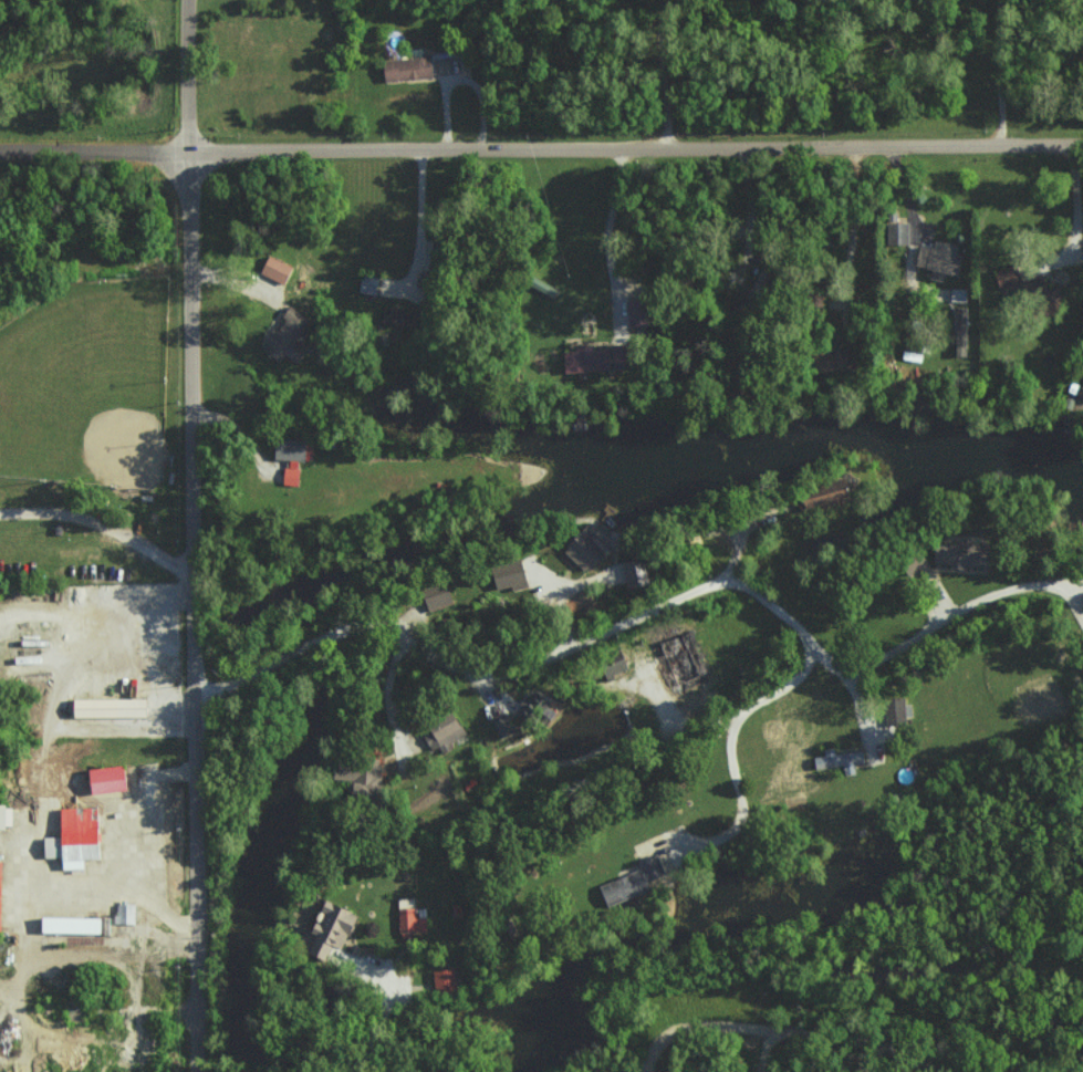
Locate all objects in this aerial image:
building: (403, 66)
road: (666, 73)
road: (541, 146)
road: (1079, 215)
road: (423, 223)
building: (895, 232)
road: (610, 237)
building: (936, 256)
building: (273, 268)
building: (1000, 277)
building: (364, 283)
building: (1039, 295)
building: (959, 331)
building: (280, 343)
building: (582, 358)
building: (824, 361)
park: (87, 384)
road: (644, 443)
building: (289, 449)
building: (290, 477)
building: (820, 493)
road: (105, 529)
road: (202, 535)
building: (580, 549)
building: (952, 554)
building: (908, 560)
building: (631, 571)
building: (504, 574)
building: (434, 595)
road: (641, 613)
building: (676, 659)
building: (610, 664)
building: (104, 707)
building: (892, 709)
building: (537, 712)
building: (498, 725)
building: (439, 730)
road: (728, 750)
building: (836, 760)
building: (101, 779)
building: (351, 779)
building: (3, 816)
building: (70, 837)
building: (628, 881)
building: (122, 914)
building: (409, 920)
building: (69, 925)
building: (325, 929)
building: (444, 980)
road: (781, 1035)

